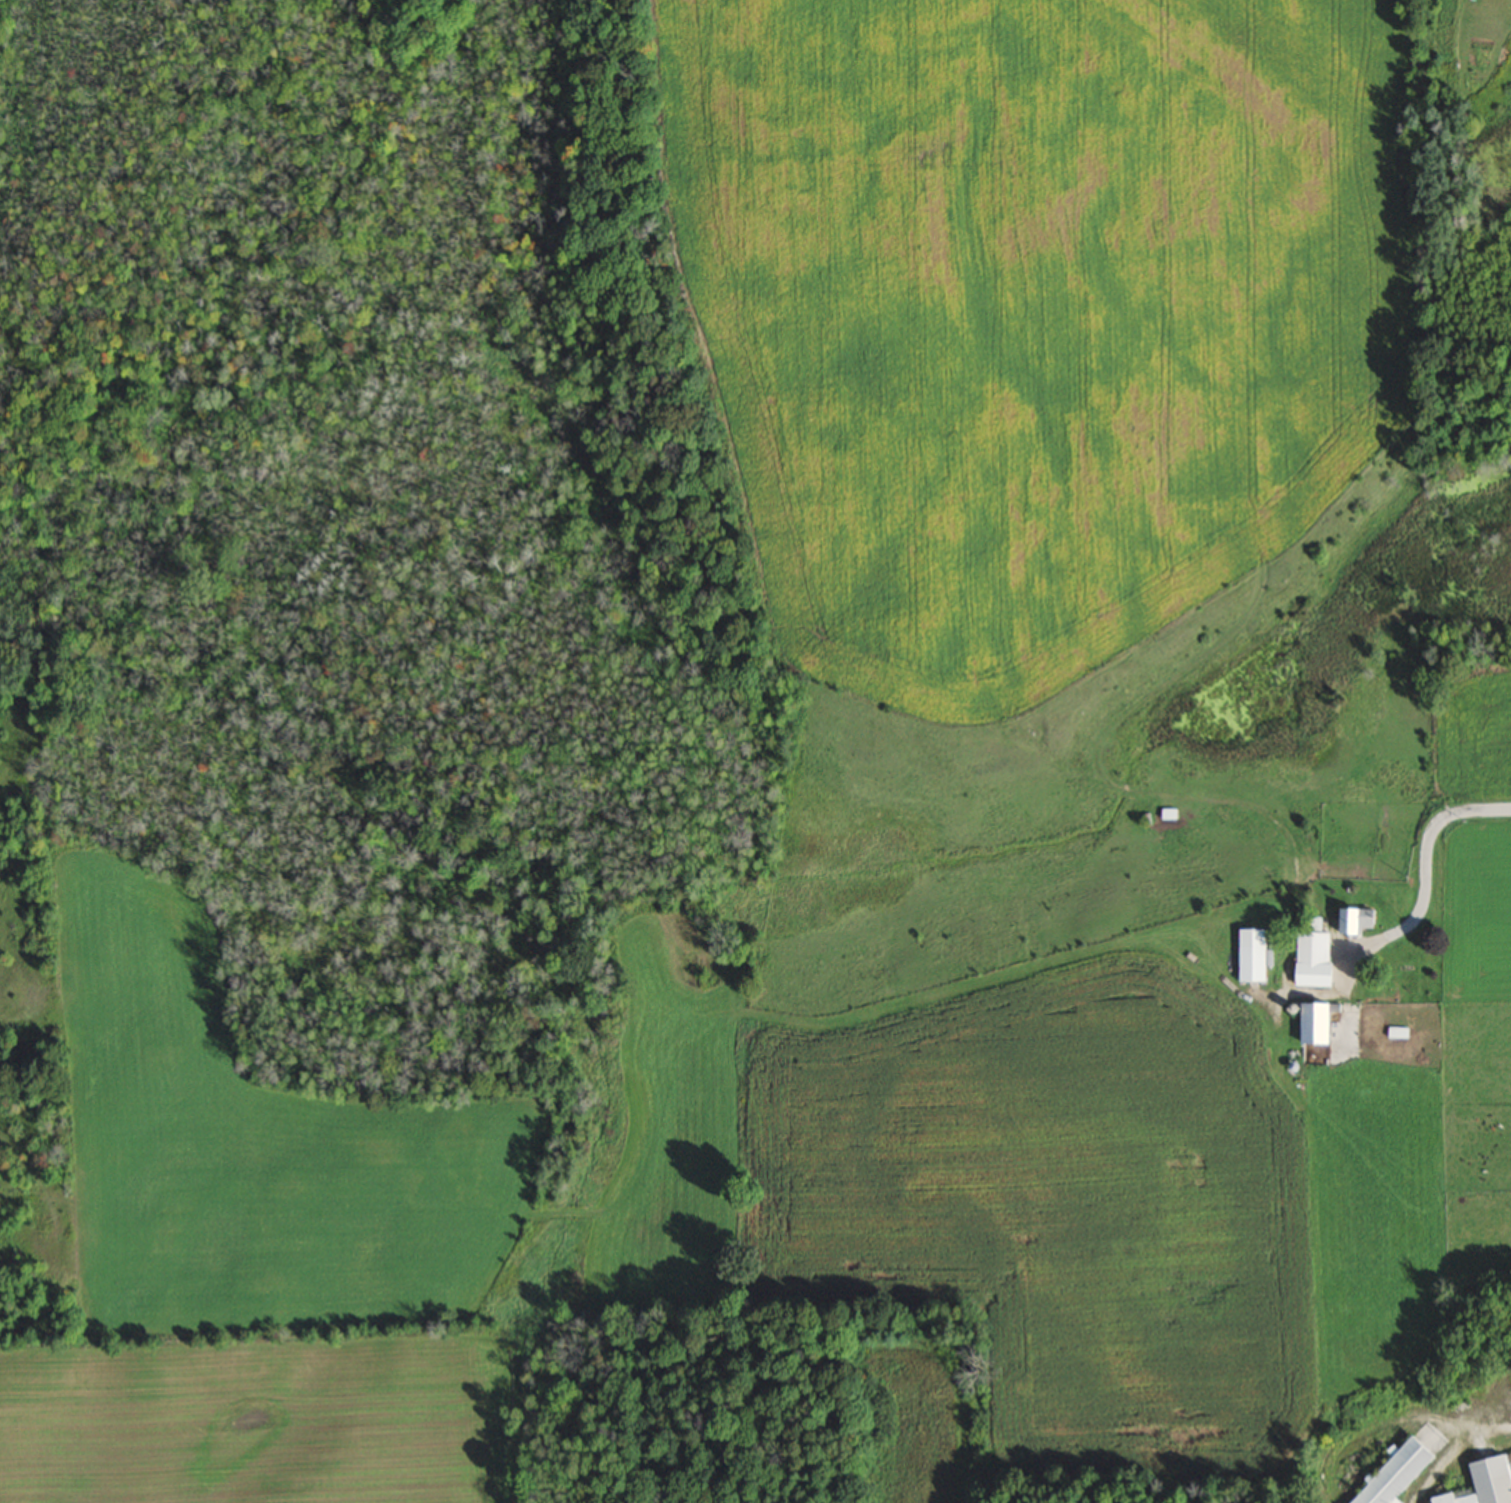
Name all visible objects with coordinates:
road: (1438, 820)
building: (1351, 920)
building: (1248, 954)
building: (1309, 957)
building: (1308, 1023)
building: (1390, 1473)
building: (1482, 1482)

